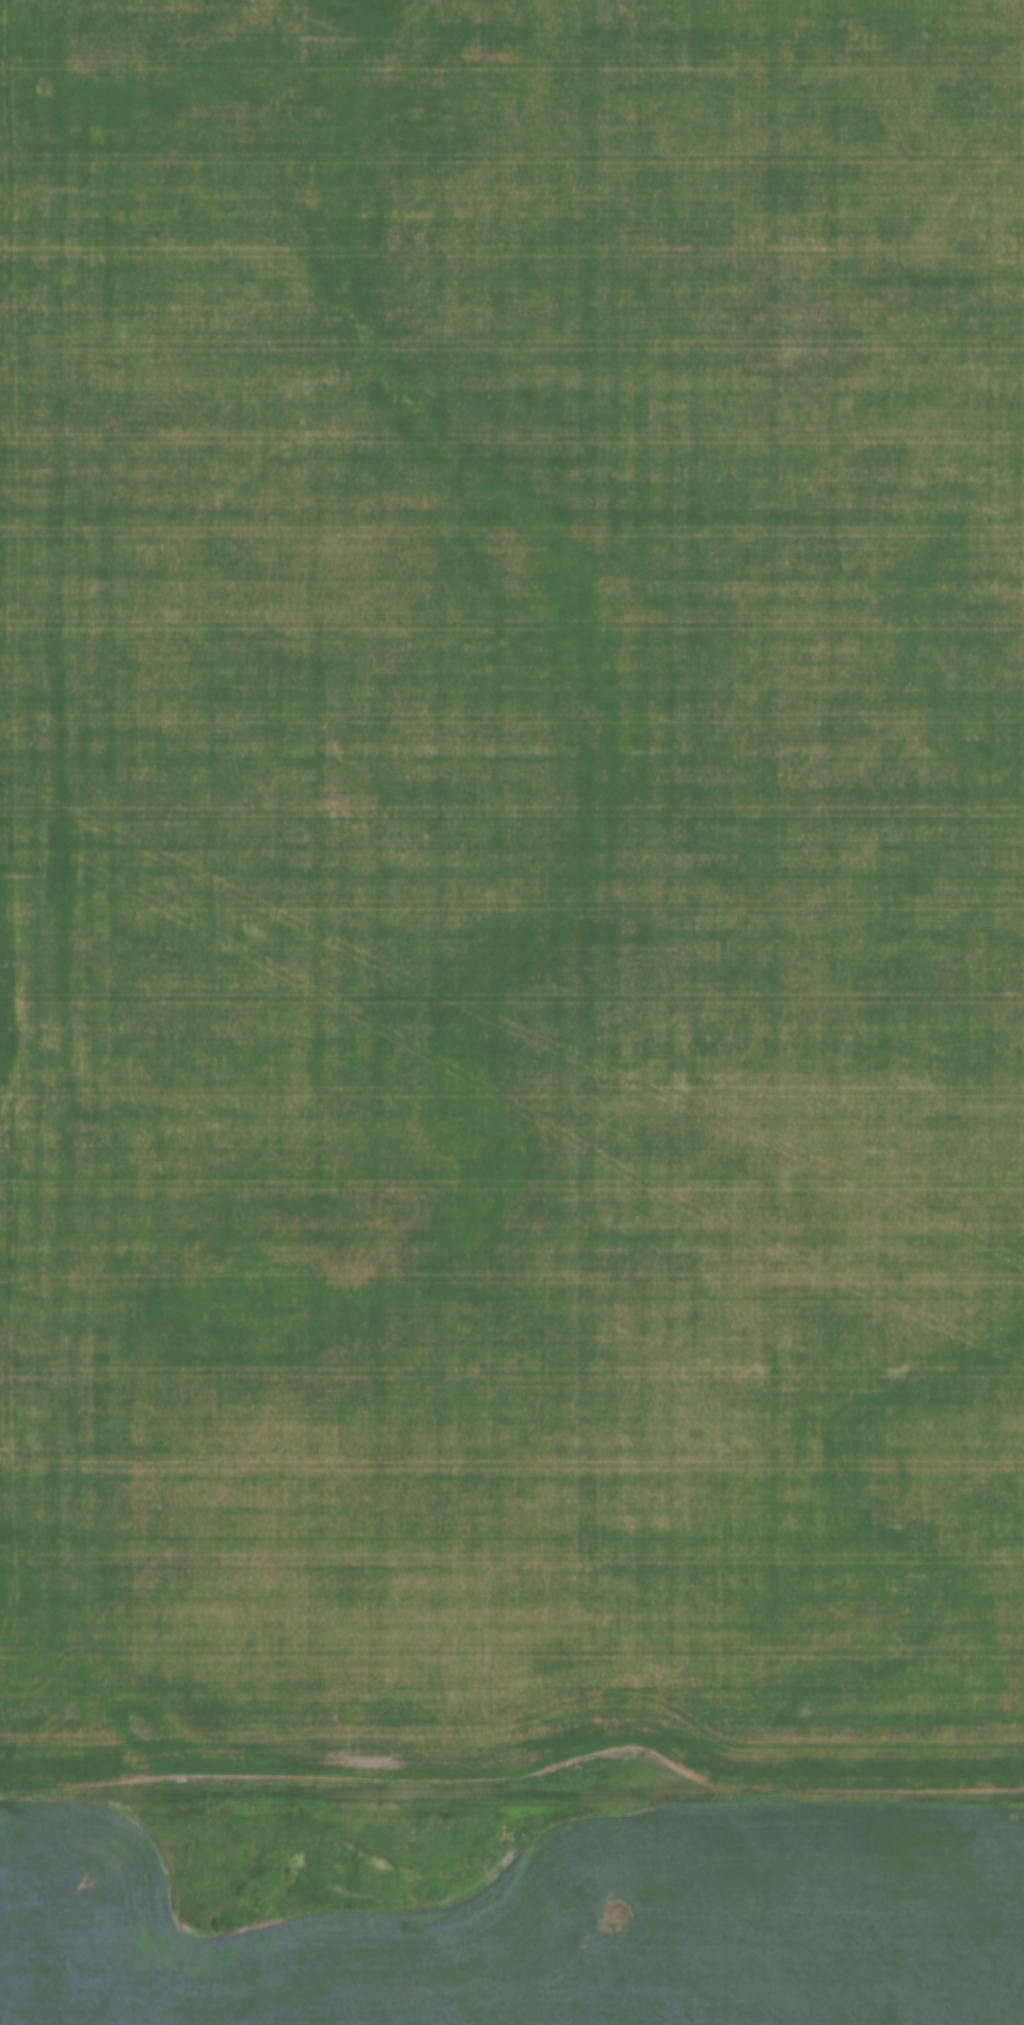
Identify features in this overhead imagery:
road: (511, 1790)

